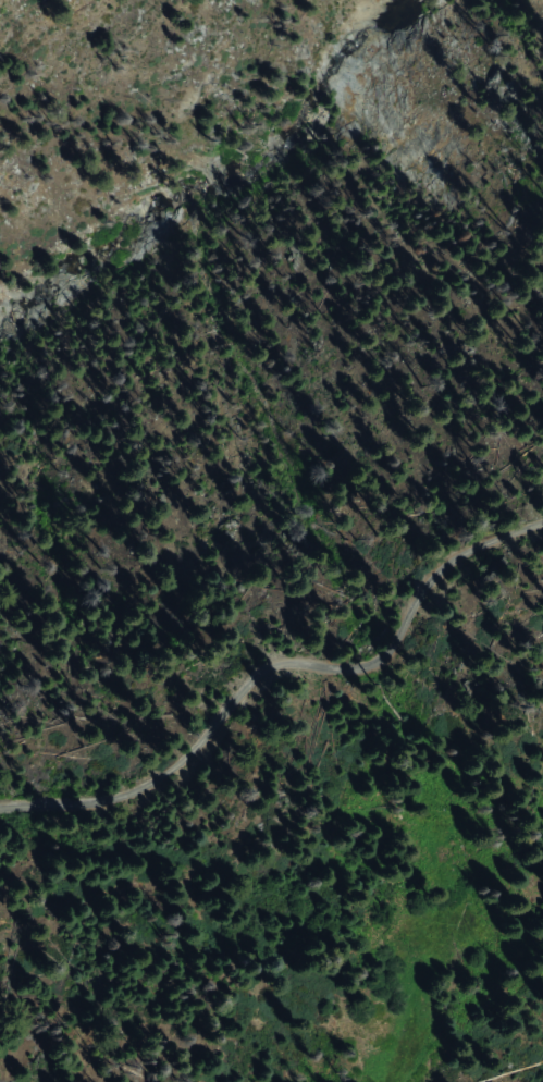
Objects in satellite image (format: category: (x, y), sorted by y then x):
road: (274, 664)

